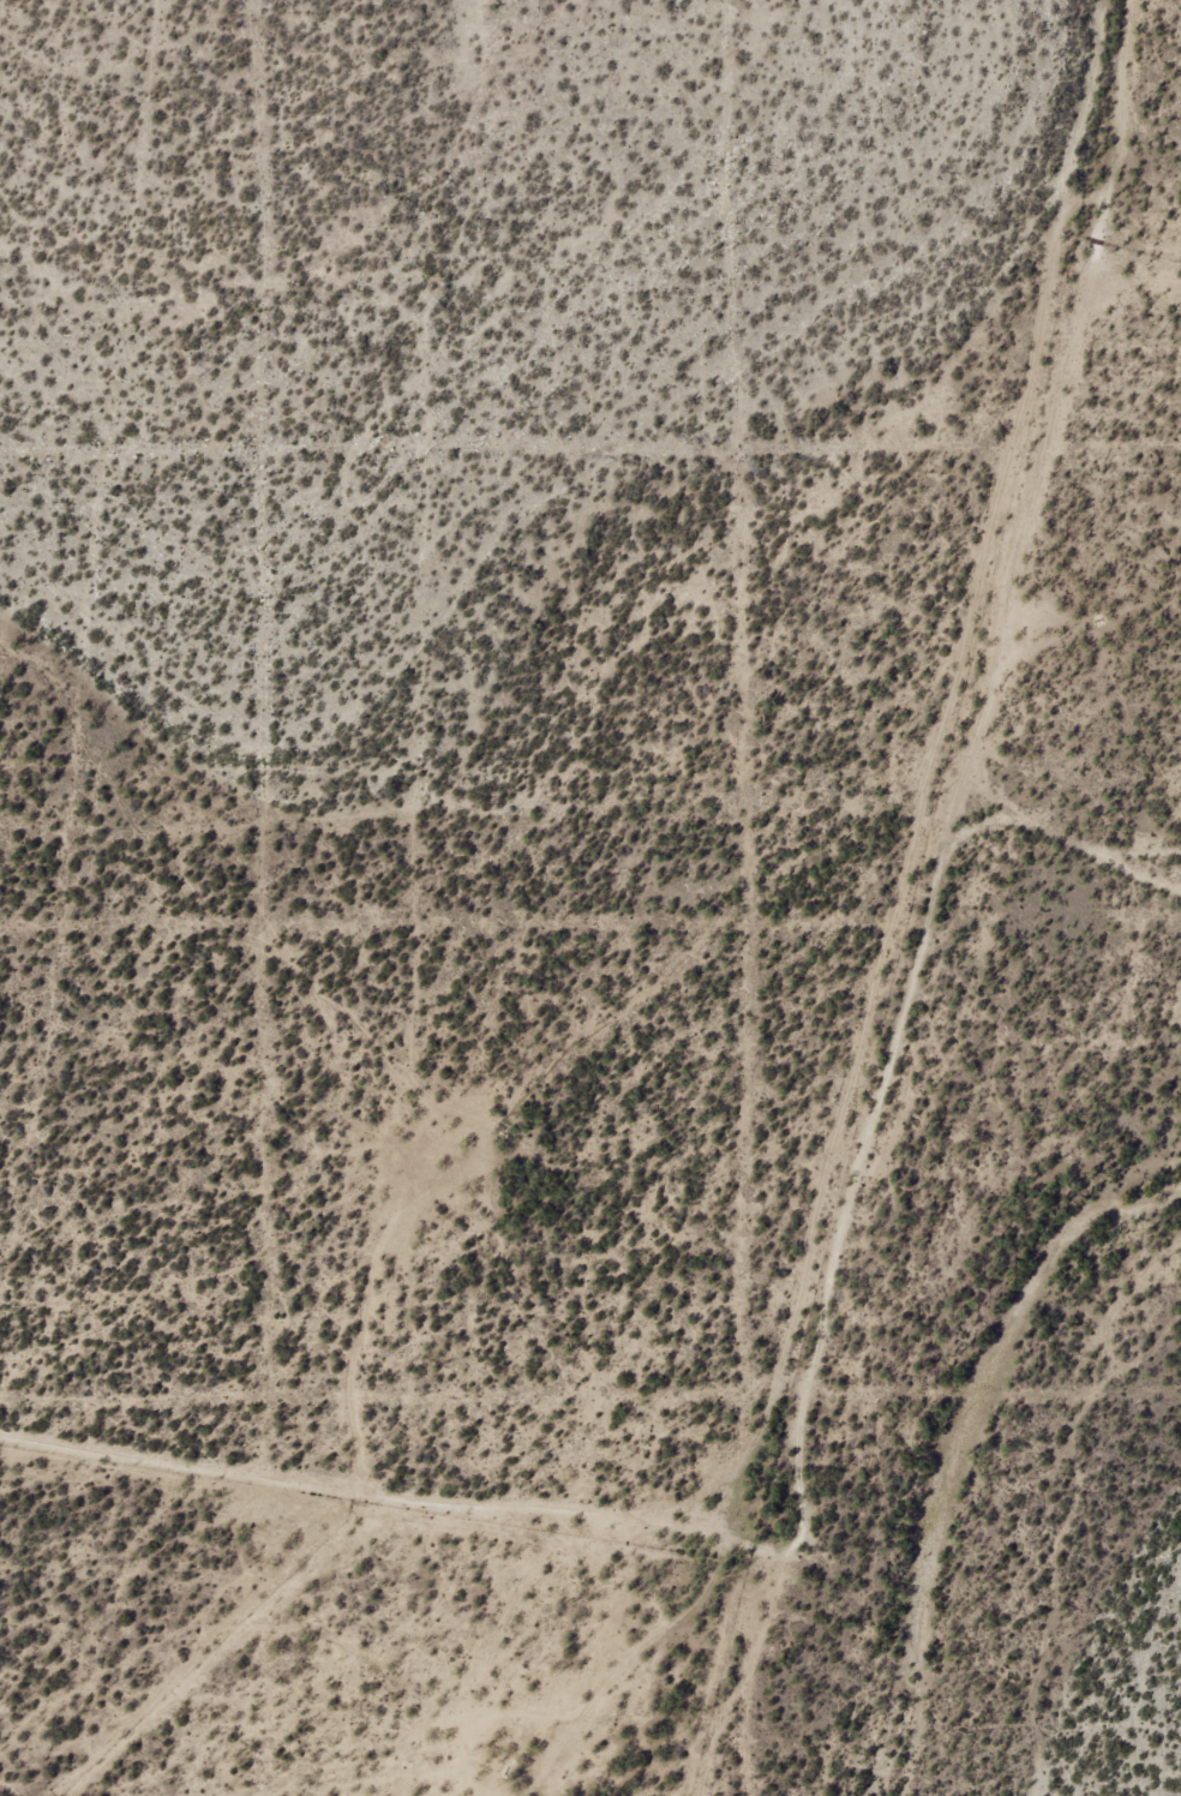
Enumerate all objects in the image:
road: (880, 916)

